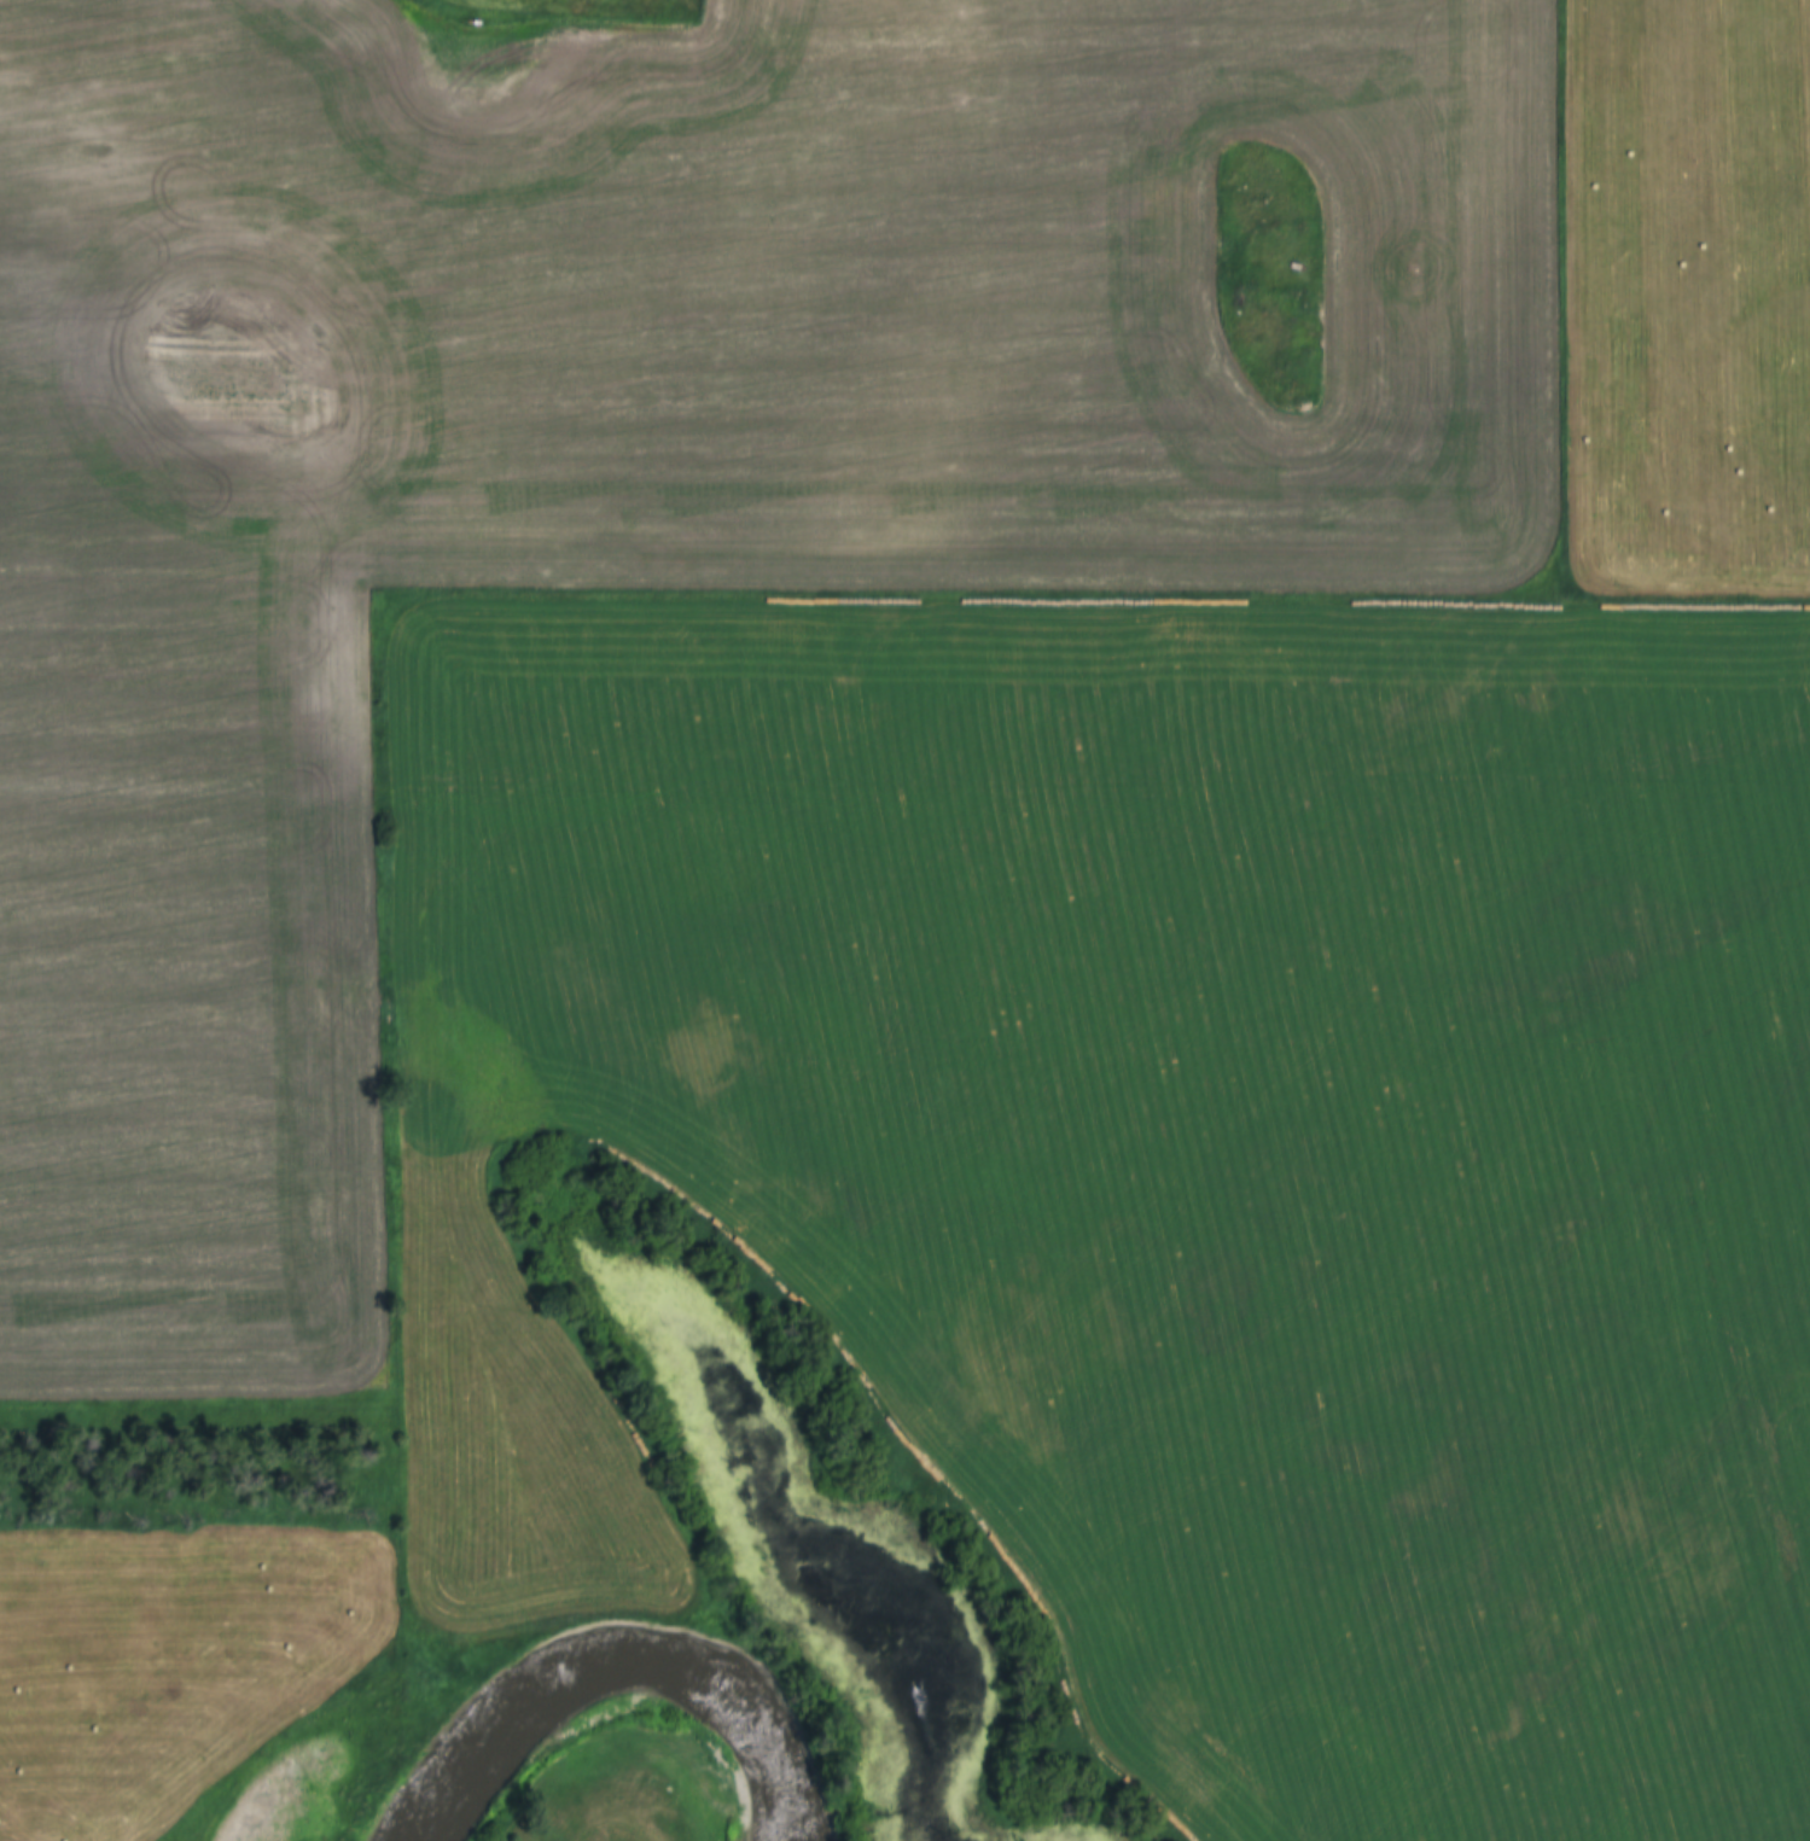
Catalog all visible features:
river: (616, 1668)

